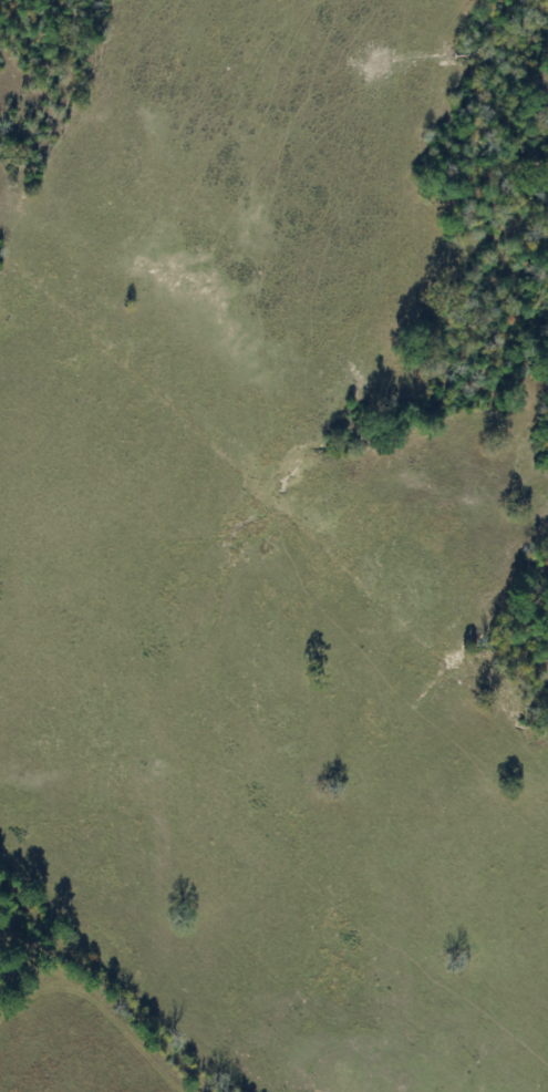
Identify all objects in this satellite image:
road: (82, 1000)

